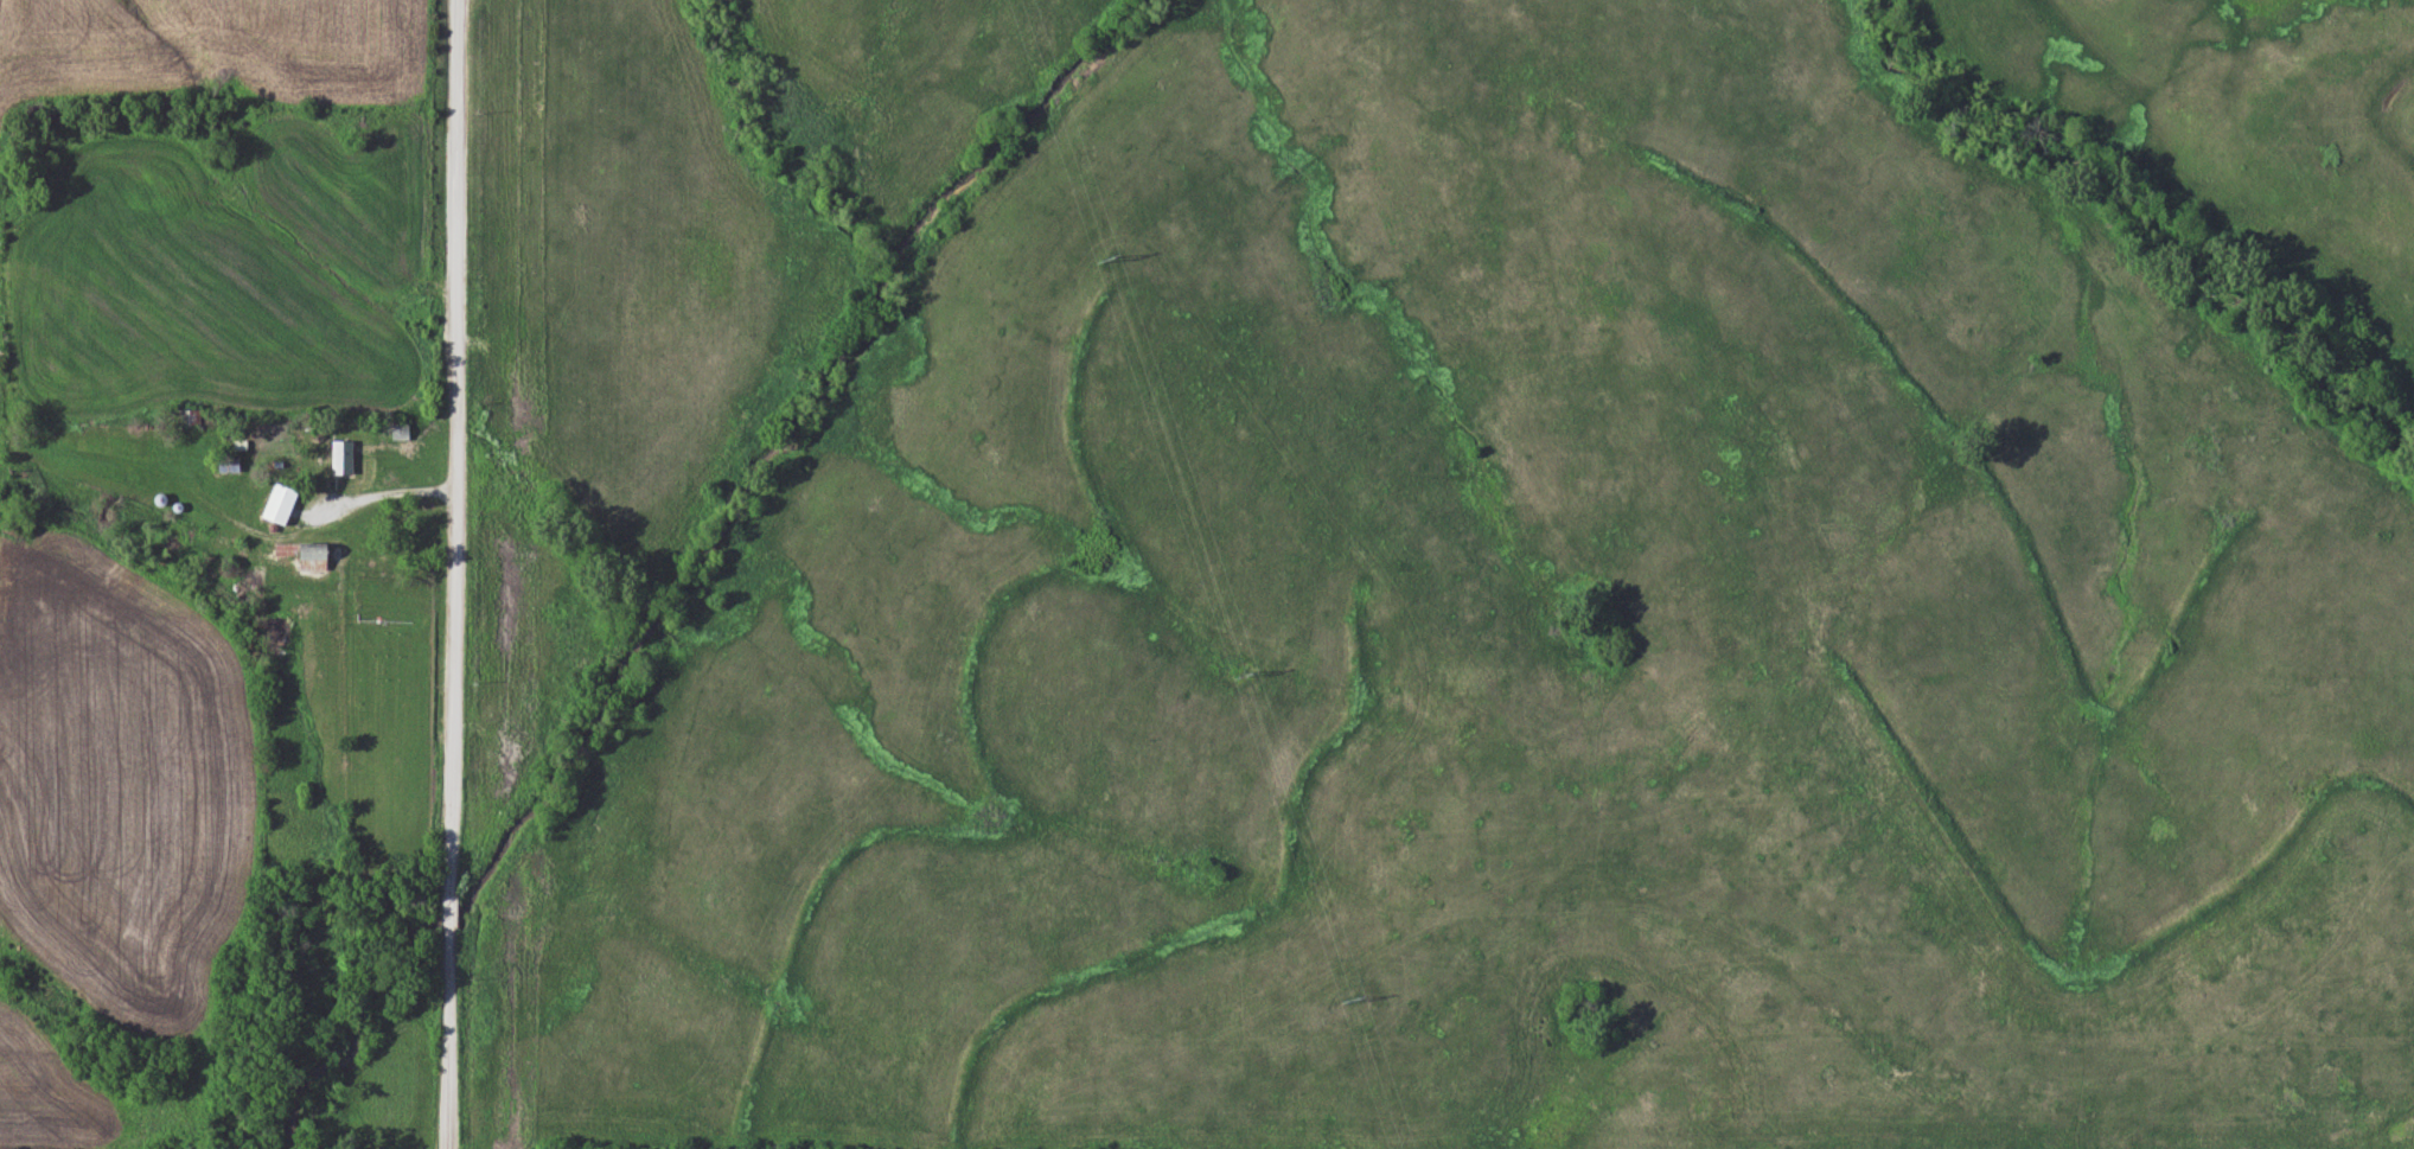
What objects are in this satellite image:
road: (451, 446)
building: (344, 457)
building: (283, 504)
building: (287, 550)
road: (448, 909)
road: (447, 1038)

